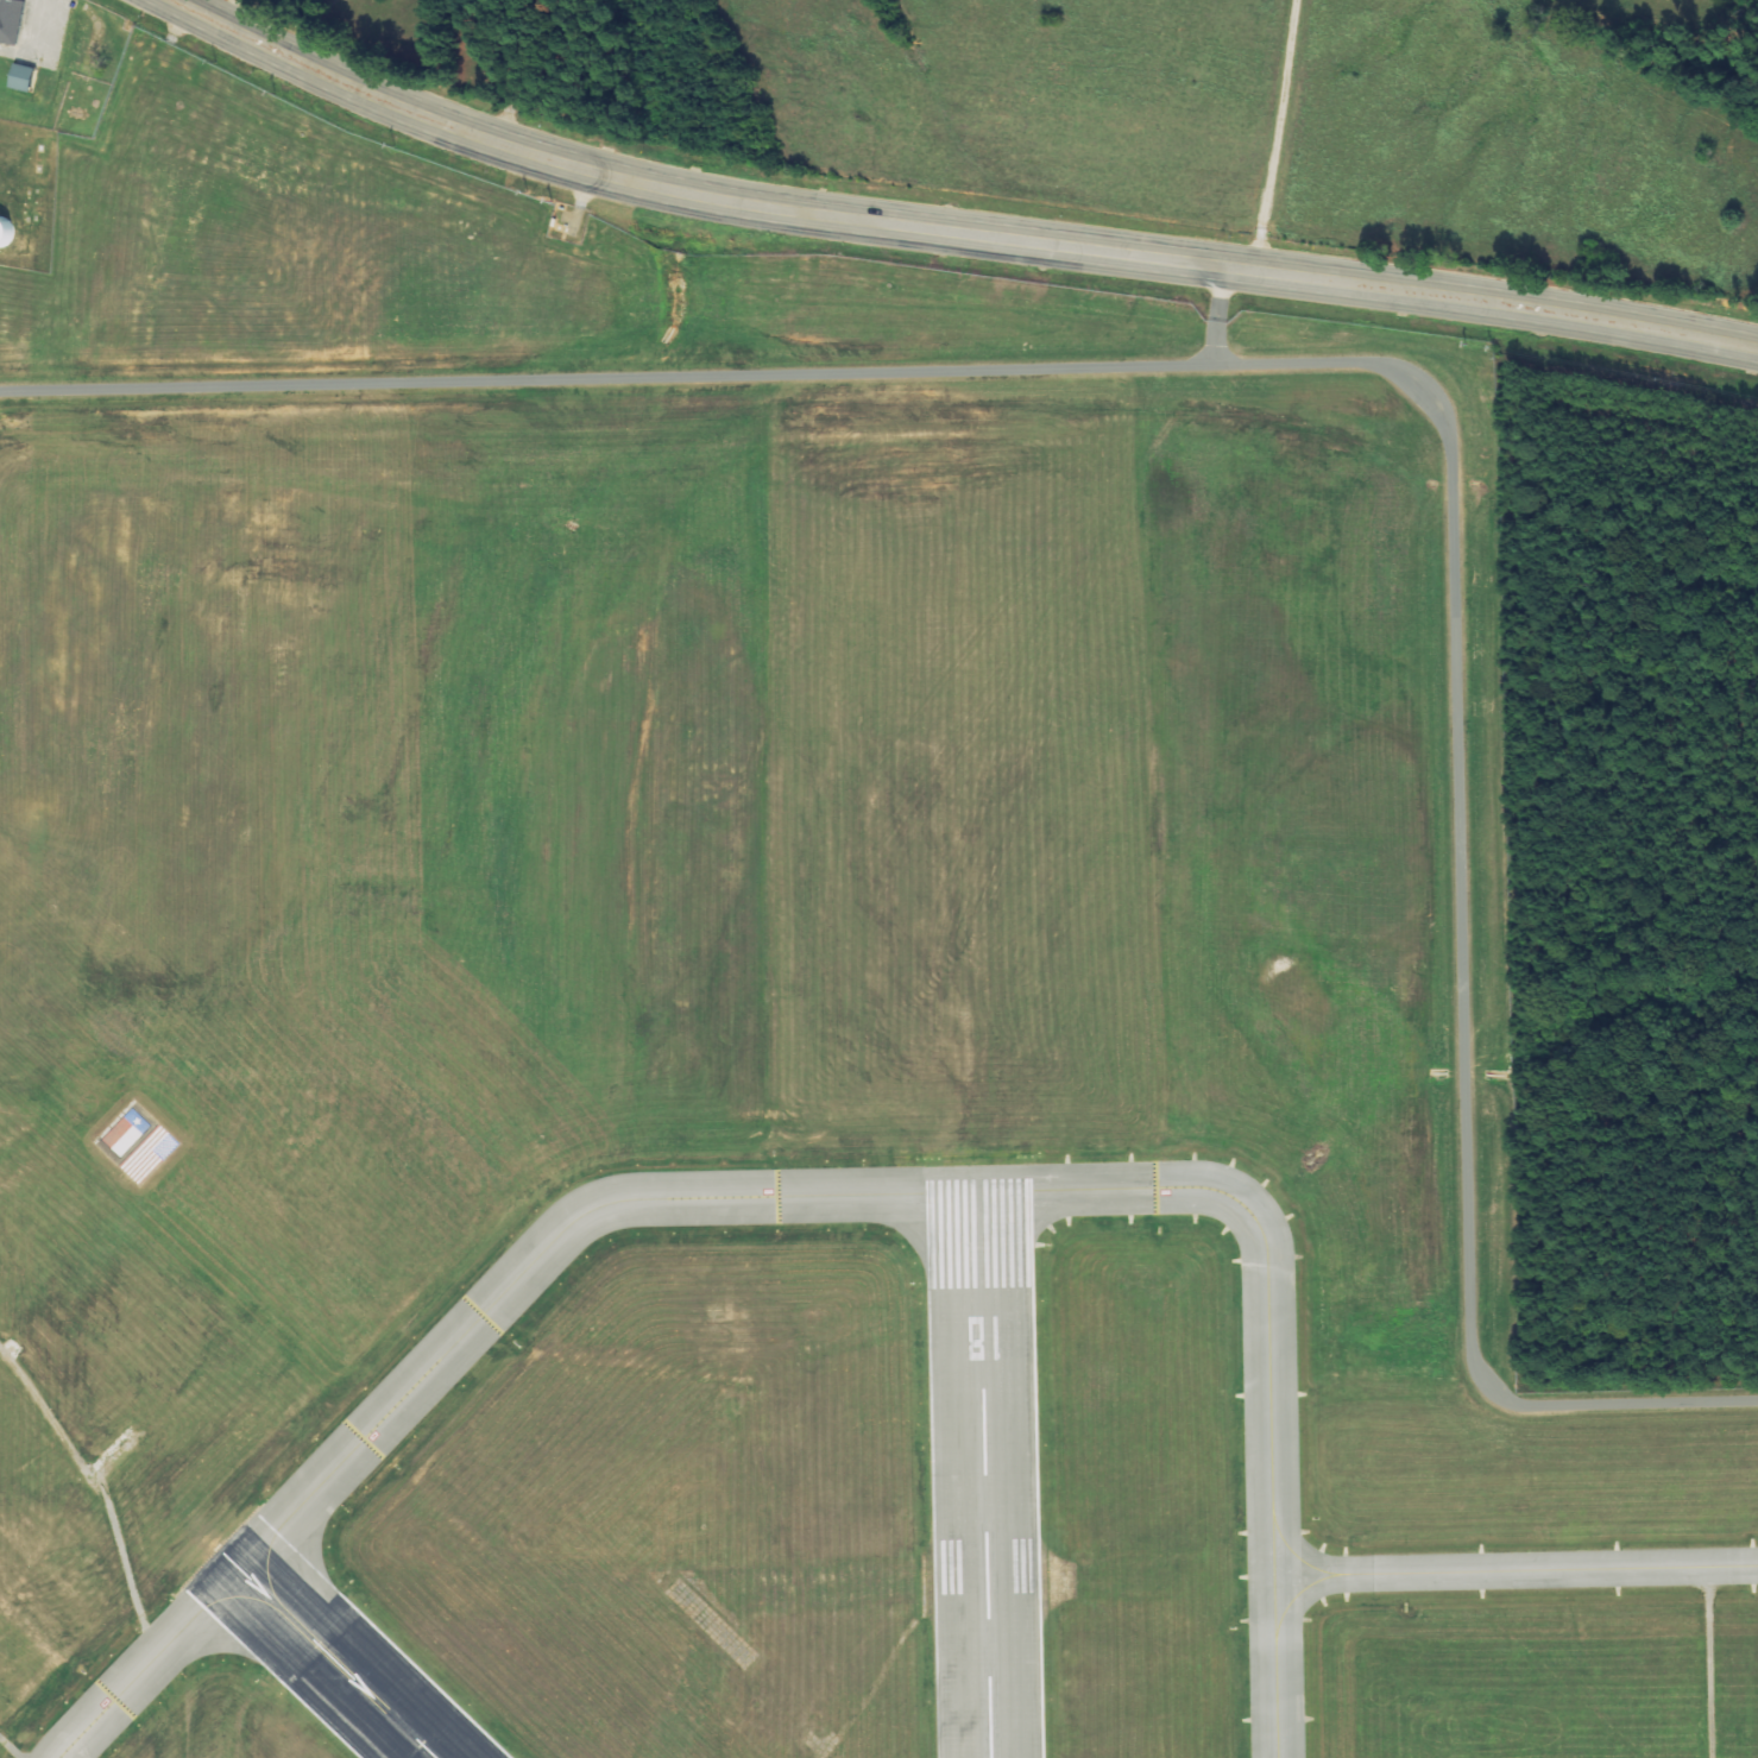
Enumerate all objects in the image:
parking lot: (0, 2)
road: (218, 11)
building: (11, 20)
road: (45, 27)
parking lot: (39, 34)
building: (24, 78)
road: (470, 132)
road: (1277, 136)
building: (13, 233)
road: (1275, 273)
airport: (850, 1000)
building: (127, 1134)
airport taxiway: (1069, 1190)
airport taxiway: (459, 1340)
airport taxiway: (1271, 1432)
airport runway: (984, 1464)
airport taxiway: (1516, 1571)
airport runway: (329, 1656)

